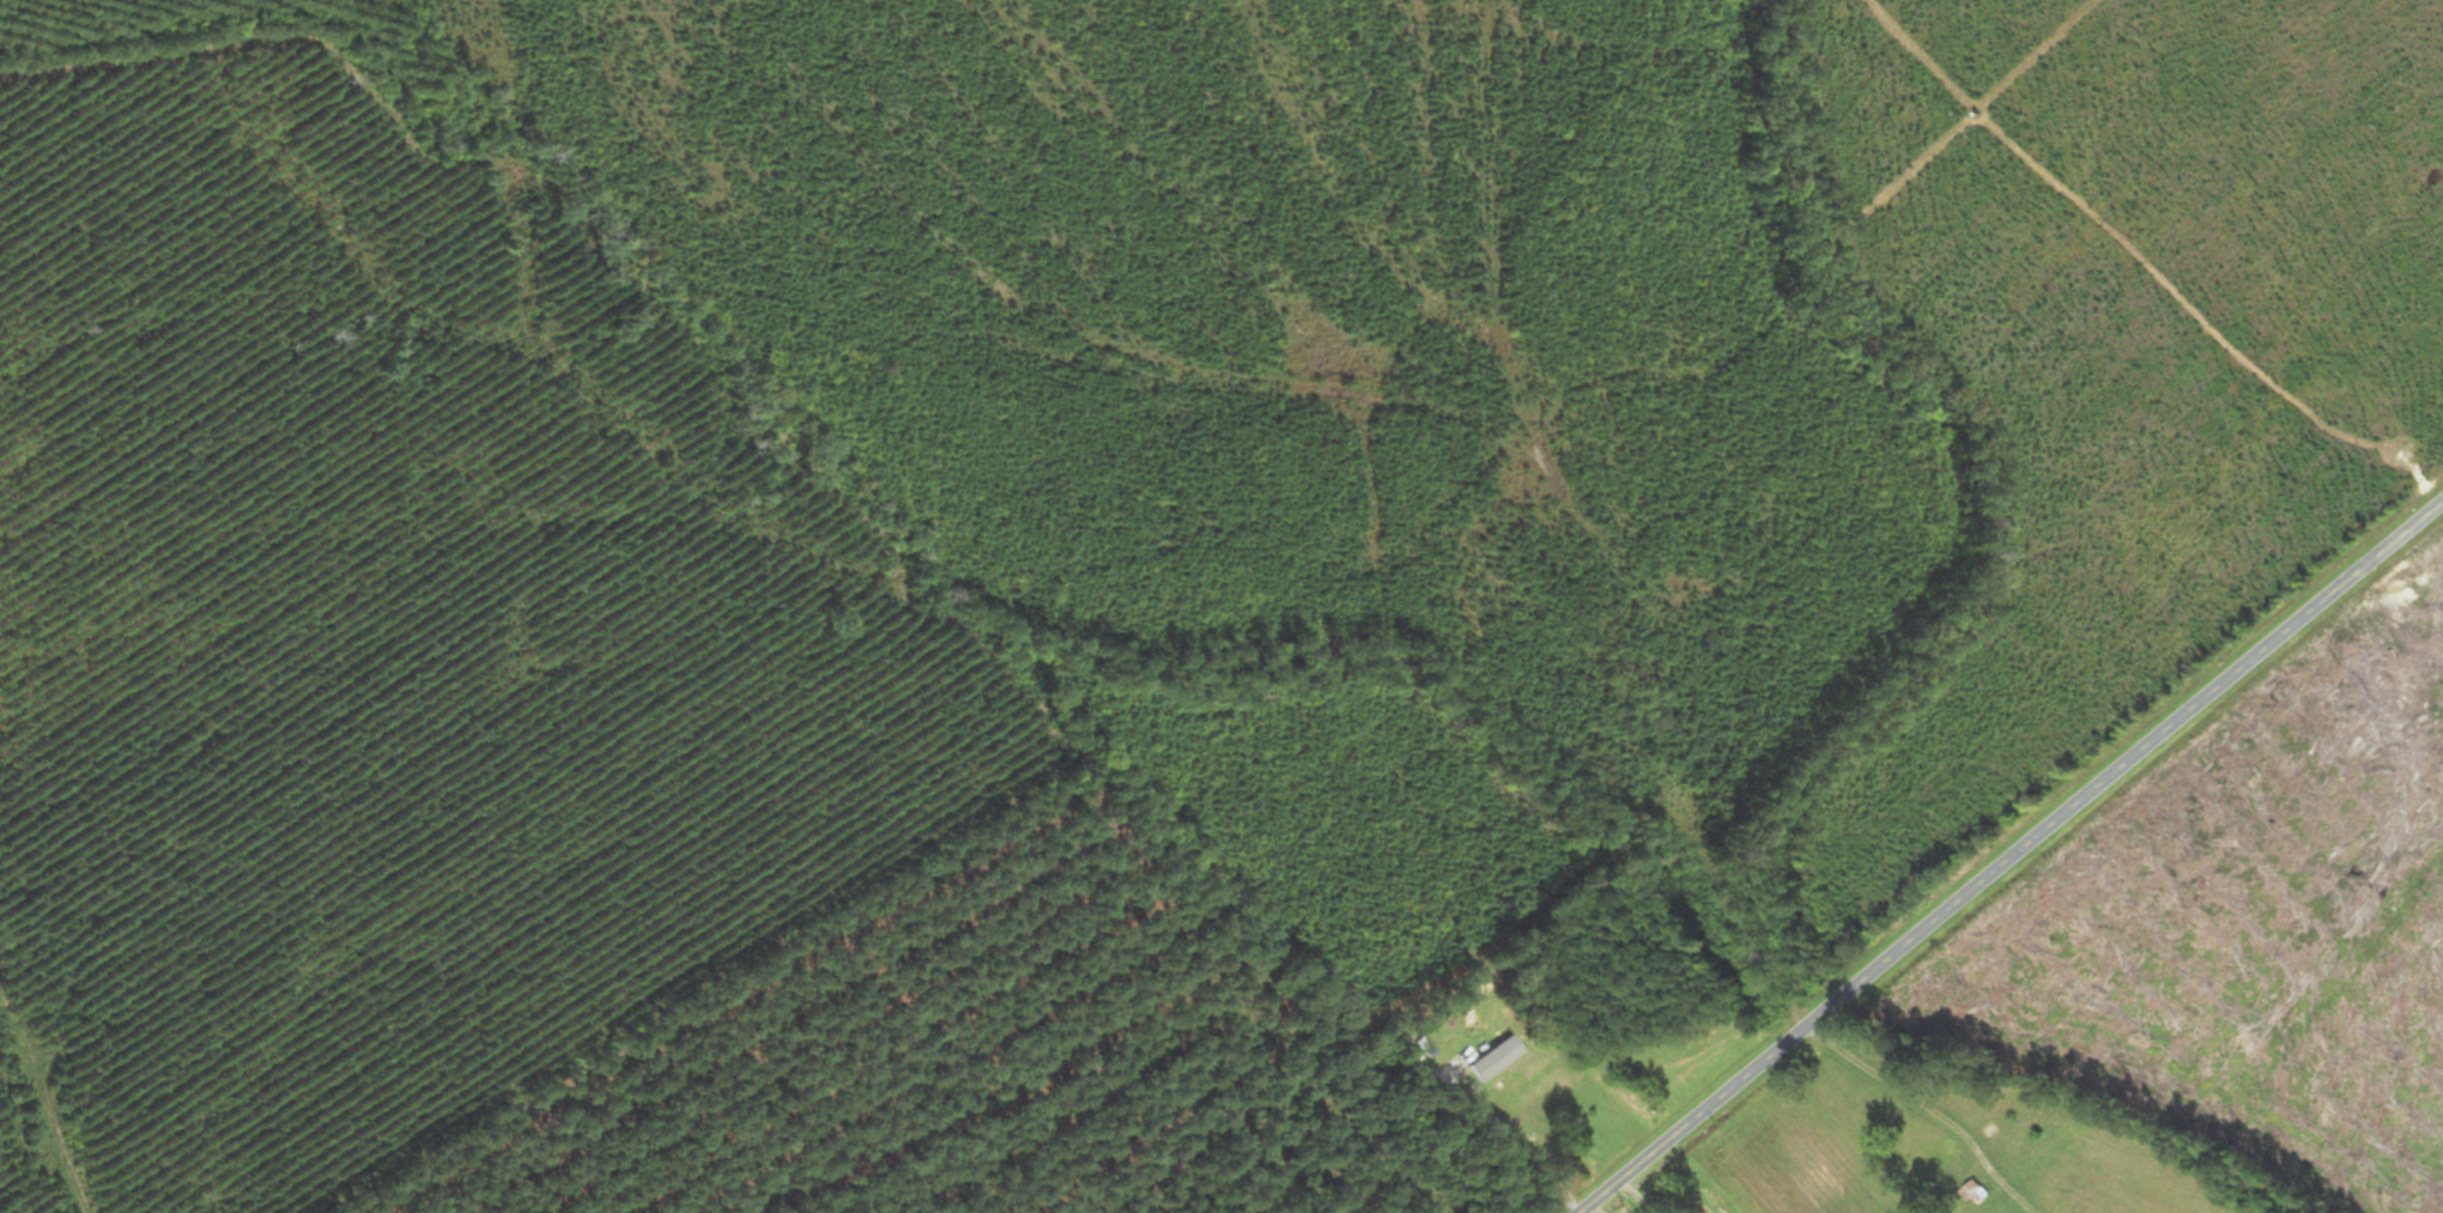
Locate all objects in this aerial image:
road: (2008, 855)
building: (1451, 1074)
road: (1896, 1085)
building: (1930, 1169)

